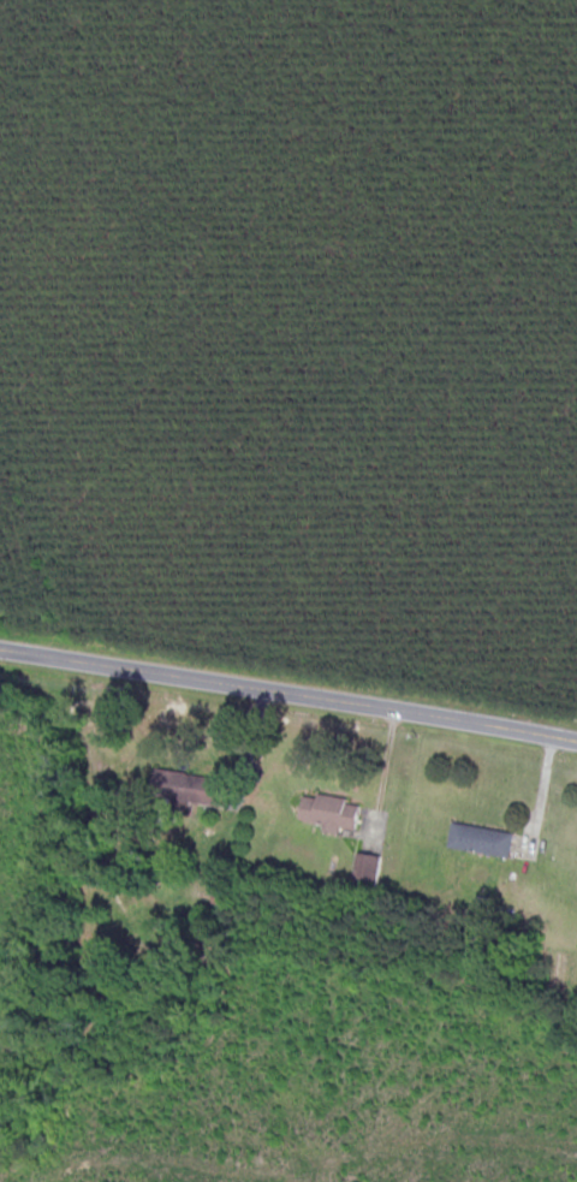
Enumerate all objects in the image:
road: (288, 695)
building: (185, 789)
building: (327, 813)
building: (480, 841)
building: (365, 871)

